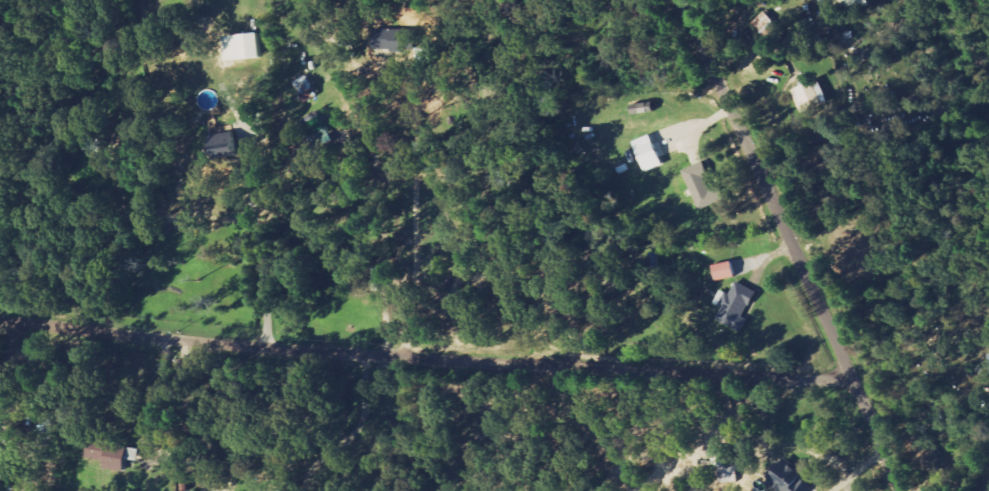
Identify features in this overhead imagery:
building: (856, 4)
building: (765, 24)
building: (392, 40)
building: (240, 47)
building: (809, 96)
building: (86, 145)
building: (220, 147)
building: (646, 154)
building: (702, 188)
road: (260, 242)
road: (792, 245)
building: (723, 272)
building: (734, 307)
road: (426, 356)
road: (355, 432)
building: (106, 453)
building: (787, 480)

